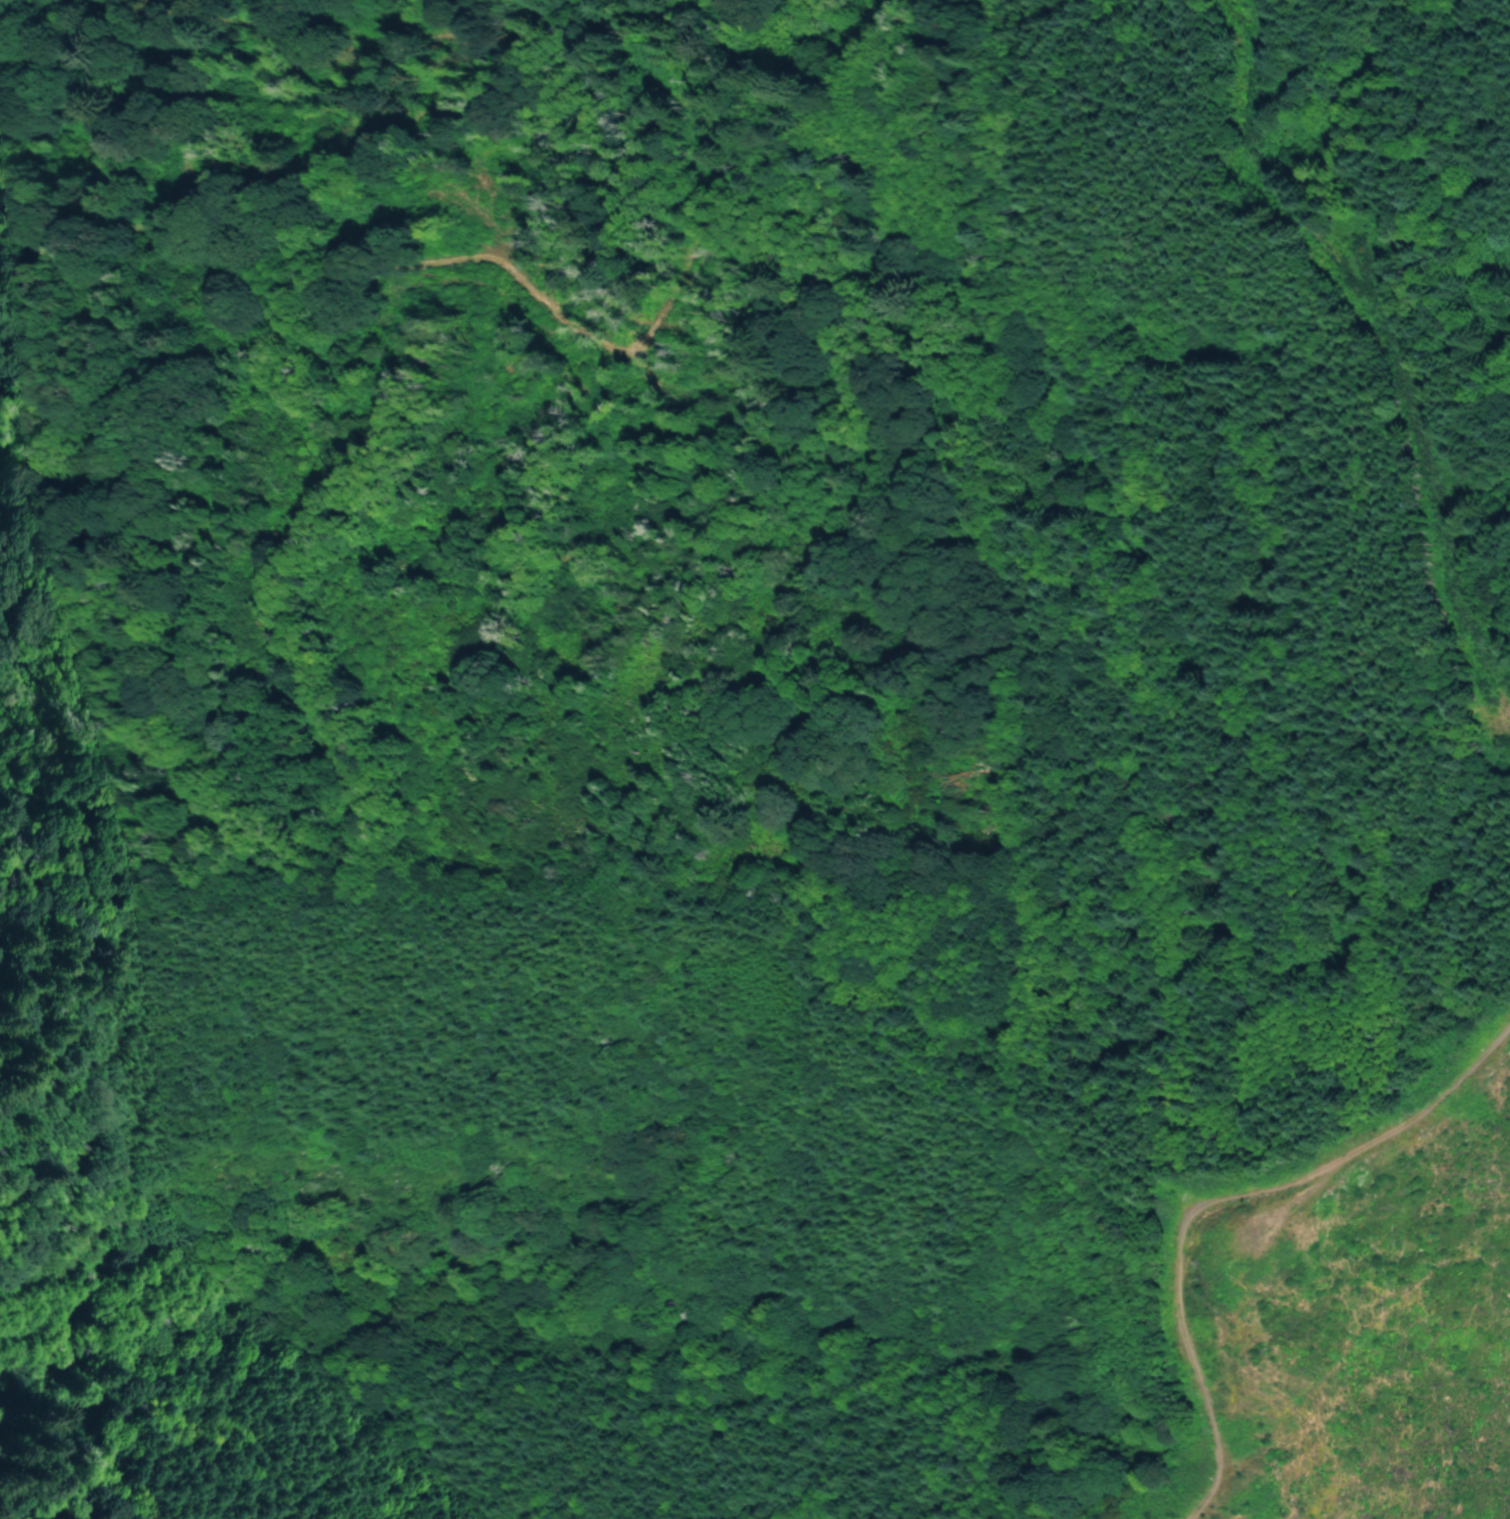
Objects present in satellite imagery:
road: (1393, 355)
road: (1207, 1189)

